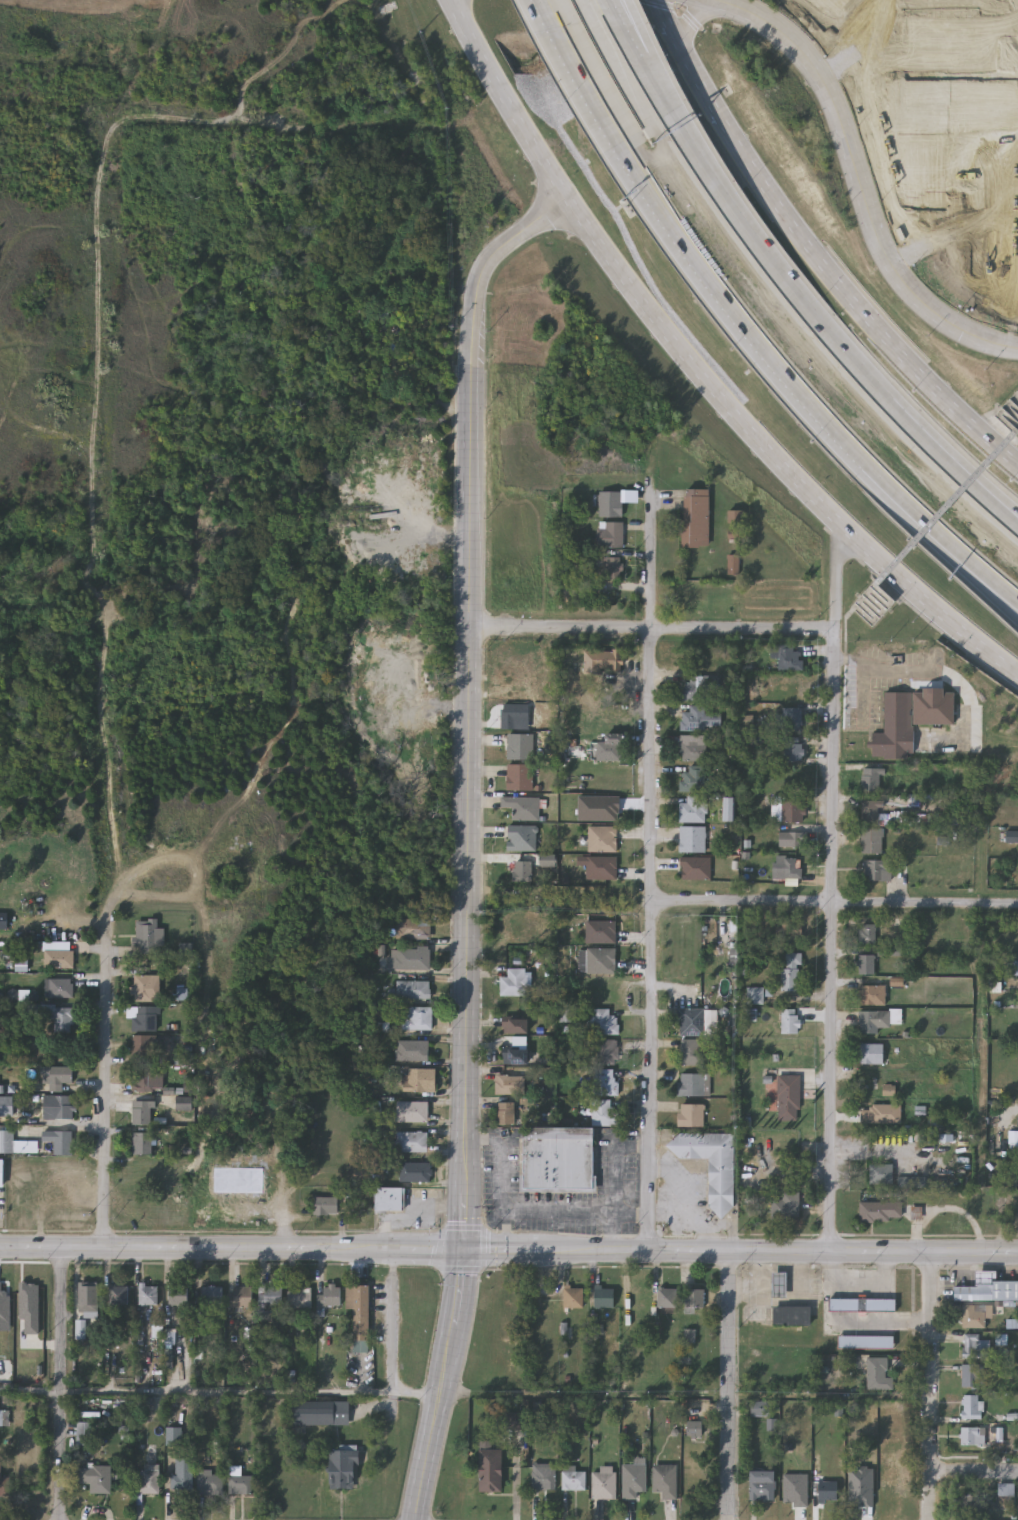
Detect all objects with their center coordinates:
road: (631, 11)
road: (463, 12)
road: (701, 14)
road: (637, 34)
road: (641, 34)
road: (585, 72)
road: (666, 90)
road: (864, 180)
building: (950, 241)
road: (815, 249)
road: (770, 253)
road: (732, 312)
road: (695, 370)
road: (468, 391)
road: (1015, 399)
road: (1006, 407)
road: (999, 413)
road: (938, 452)
building: (609, 504)
road: (943, 509)
road: (1012, 517)
building: (695, 518)
road: (1012, 519)
road: (939, 531)
building: (609, 535)
road: (935, 545)
building: (609, 568)
building: (695, 596)
road: (870, 608)
road: (652, 629)
building: (787, 659)
road: (888, 659)
building: (602, 661)
building: (698, 686)
building: (513, 714)
building: (791, 716)
building: (699, 719)
building: (895, 728)
building: (518, 747)
building: (693, 747)
building: (793, 748)
building: (606, 749)
building: (518, 777)
building: (692, 779)
building: (869, 779)
building: (520, 807)
building: (693, 810)
building: (787, 811)
building: (869, 811)
building: (521, 838)
building: (602, 839)
building: (692, 839)
building: (790, 840)
building: (870, 840)
road: (650, 866)
building: (600, 868)
building: (695, 868)
building: (787, 868)
building: (874, 869)
road: (835, 890)
road: (835, 902)
building: (414, 929)
building: (789, 929)
building: (600, 931)
building: (866, 934)
building: (146, 937)
building: (413, 959)
building: (59, 960)
building: (600, 961)
building: (865, 964)
building: (790, 972)
building: (512, 983)
building: (61, 988)
building: (147, 988)
building: (414, 990)
building: (870, 994)
building: (60, 1018)
building: (415, 1018)
building: (145, 1019)
building: (789, 1020)
building: (872, 1020)
building: (690, 1021)
building: (604, 1022)
building: (515, 1025)
building: (143, 1047)
building: (413, 1051)
building: (606, 1052)
building: (690, 1052)
building: (870, 1053)
building: (513, 1055)
road: (466, 1075)
building: (59, 1077)
building: (148, 1079)
building: (421, 1080)
building: (604, 1082)
building: (508, 1084)
building: (692, 1085)
road: (106, 1092)
building: (787, 1098)
building: (6, 1105)
building: (58, 1108)
building: (413, 1112)
building: (604, 1112)
building: (143, 1113)
building: (504, 1114)
building: (690, 1115)
building: (59, 1141)
building: (412, 1143)
building: (15, 1144)
building: (142, 1144)
building: (557, 1159)
building: (710, 1164)
building: (1, 1172)
building: (416, 1172)
building: (876, 1174)
building: (390, 1199)
road: (689, 1200)
building: (325, 1207)
building: (781, 1207)
road: (559, 1211)
building: (876, 1211)
road: (508, 1250)
traffic signals: (465, 1251)
building: (778, 1284)
building: (987, 1289)
building: (87, 1294)
building: (148, 1294)
building: (179, 1294)
building: (118, 1295)
building: (212, 1295)
building: (330, 1295)
building: (240, 1296)
building: (269, 1296)
building: (300, 1297)
building: (572, 1297)
building: (603, 1298)
building: (667, 1299)
building: (695, 1299)
road: (789, 1301)
building: (861, 1305)
building: (358, 1314)
building: (793, 1316)
building: (974, 1316)
building: (864, 1341)
road: (393, 1343)
building: (977, 1345)
building: (878, 1374)
building: (971, 1375)
road: (60, 1383)
road: (731, 1384)
road: (930, 1386)
road: (30, 1390)
road: (227, 1392)
road: (586, 1393)
building: (972, 1405)
building: (760, 1408)
building: (321, 1413)
building: (4, 1418)
building: (84, 1433)
building: (972, 1436)
building: (342, 1469)
building: (489, 1471)
building: (182, 1475)
road: (974, 1476)
building: (542, 1477)
building: (1, 1479)
building: (100, 1479)
building: (573, 1479)
building: (148, 1480)
building: (632, 1481)
building: (664, 1481)
building: (896, 1481)
building: (239, 1482)
building: (209, 1483)
building: (603, 1484)
building: (761, 1486)
building: (827, 1499)
building: (972, 1505)

